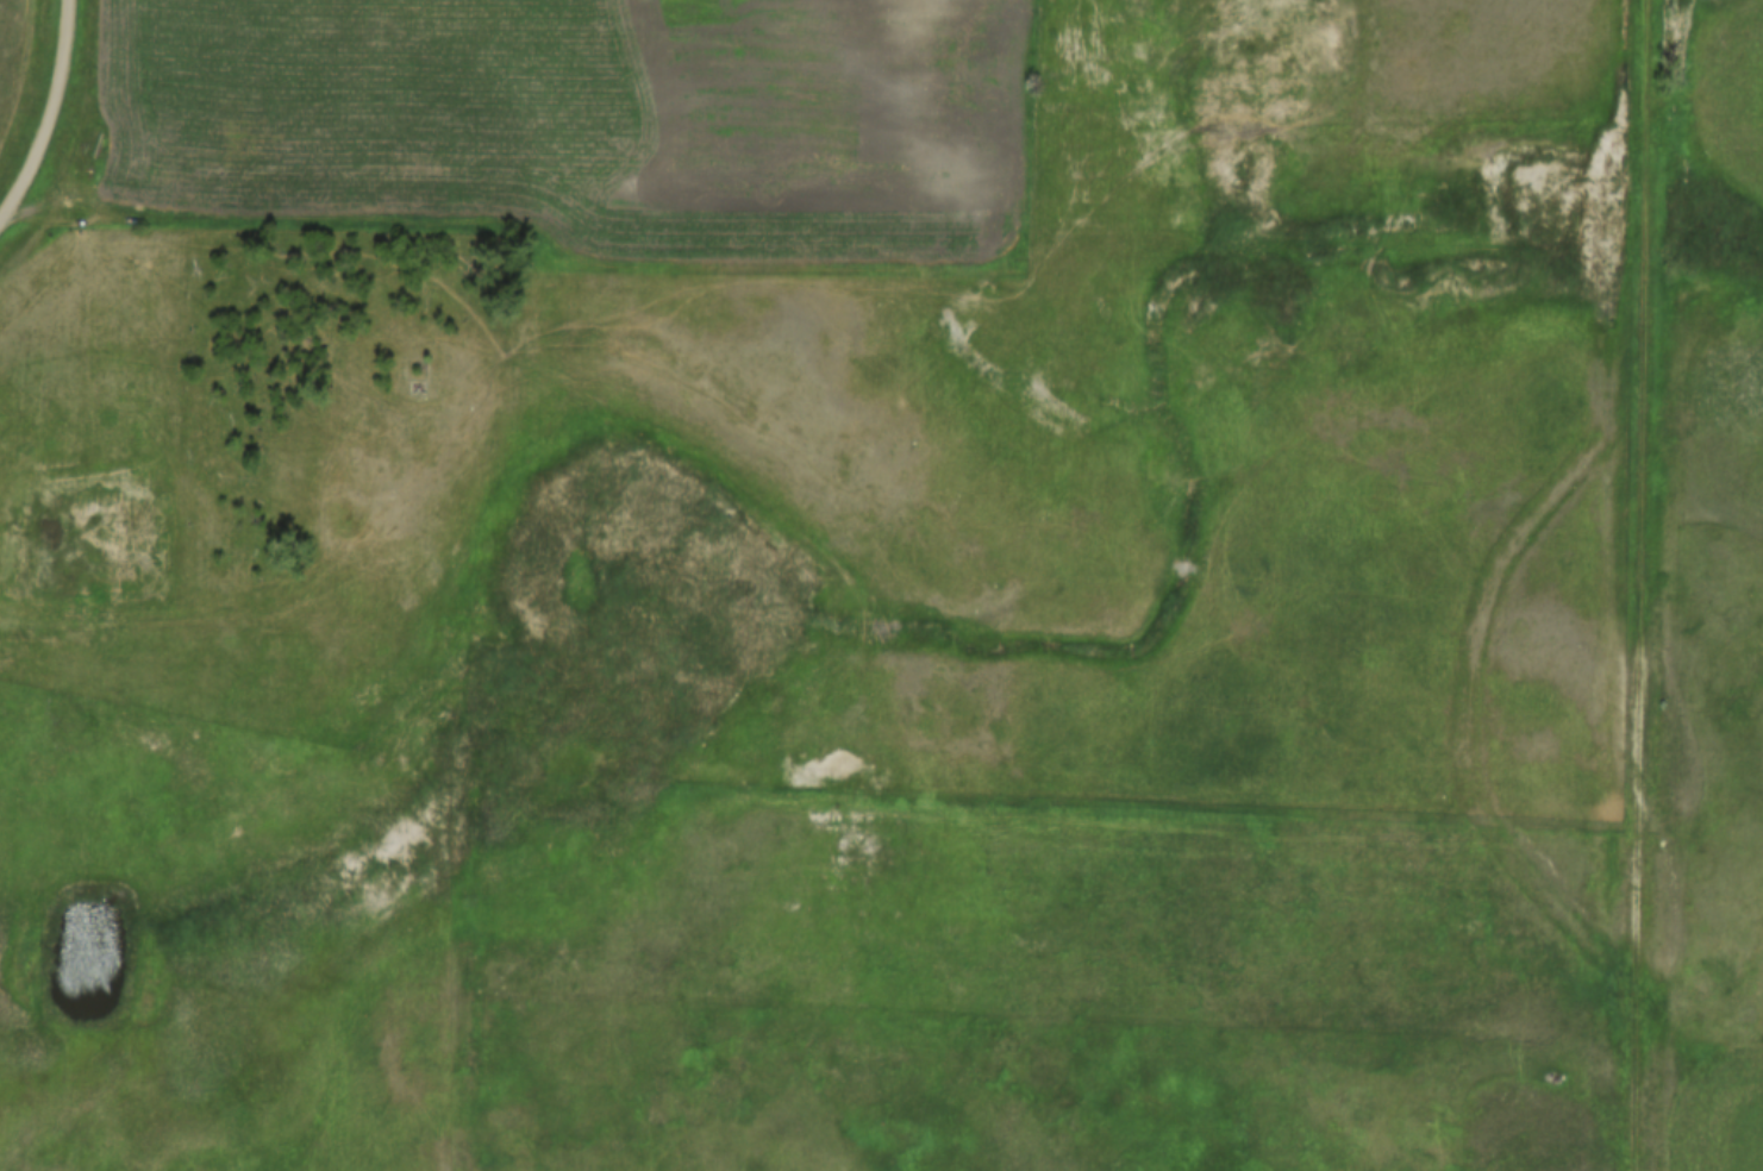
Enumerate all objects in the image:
road: (52, 117)
road: (1640, 584)

